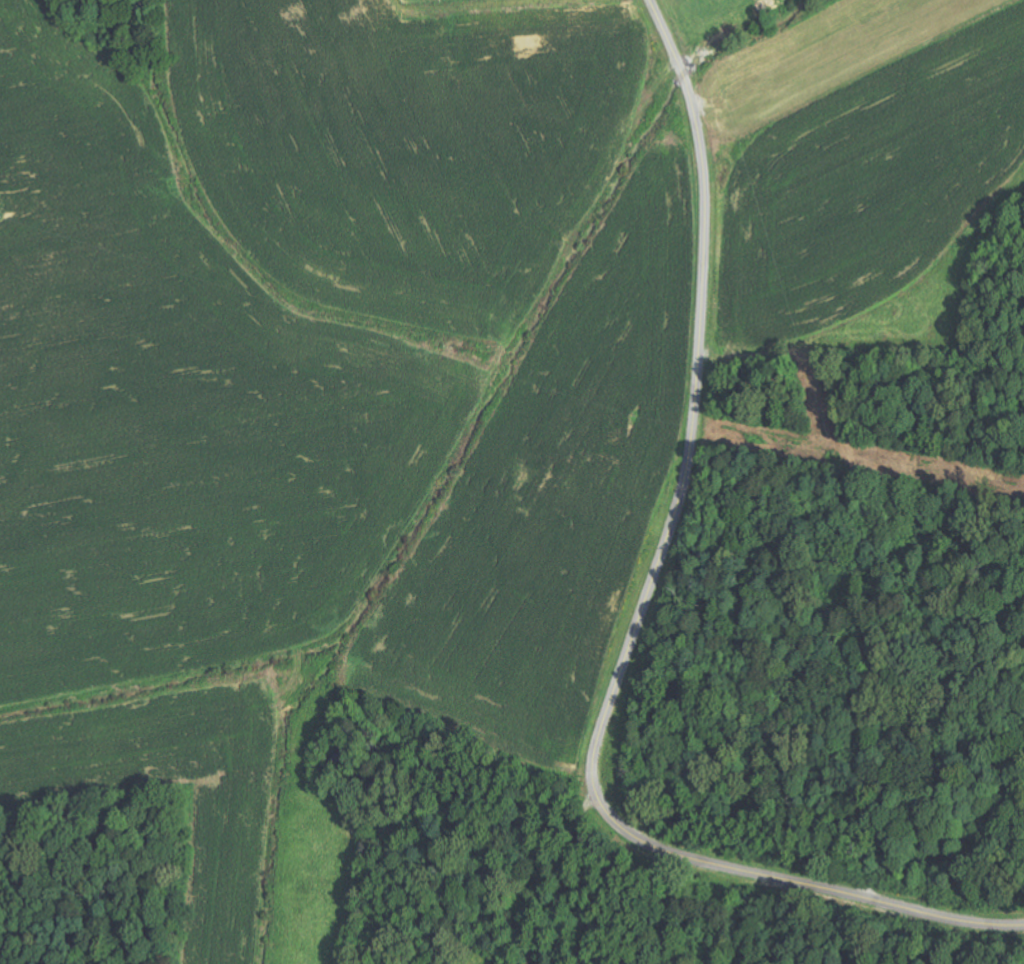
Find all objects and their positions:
road: (641, 620)

